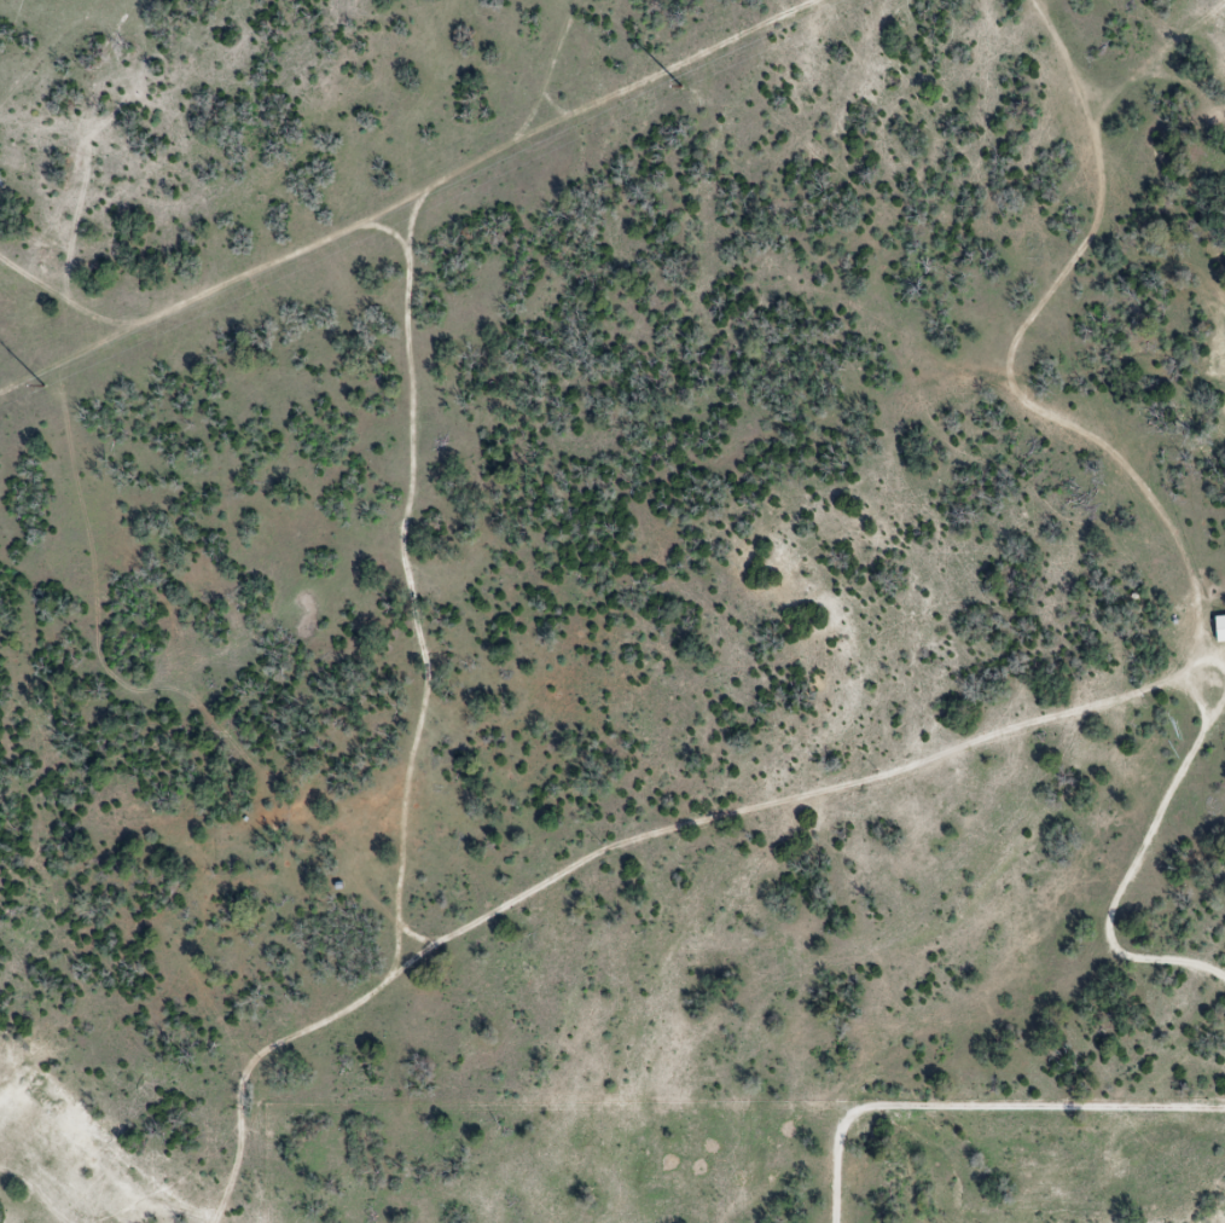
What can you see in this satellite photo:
power tower: (681, 86)
power tower: (46, 387)
building: (1220, 627)
road: (981, 1108)

